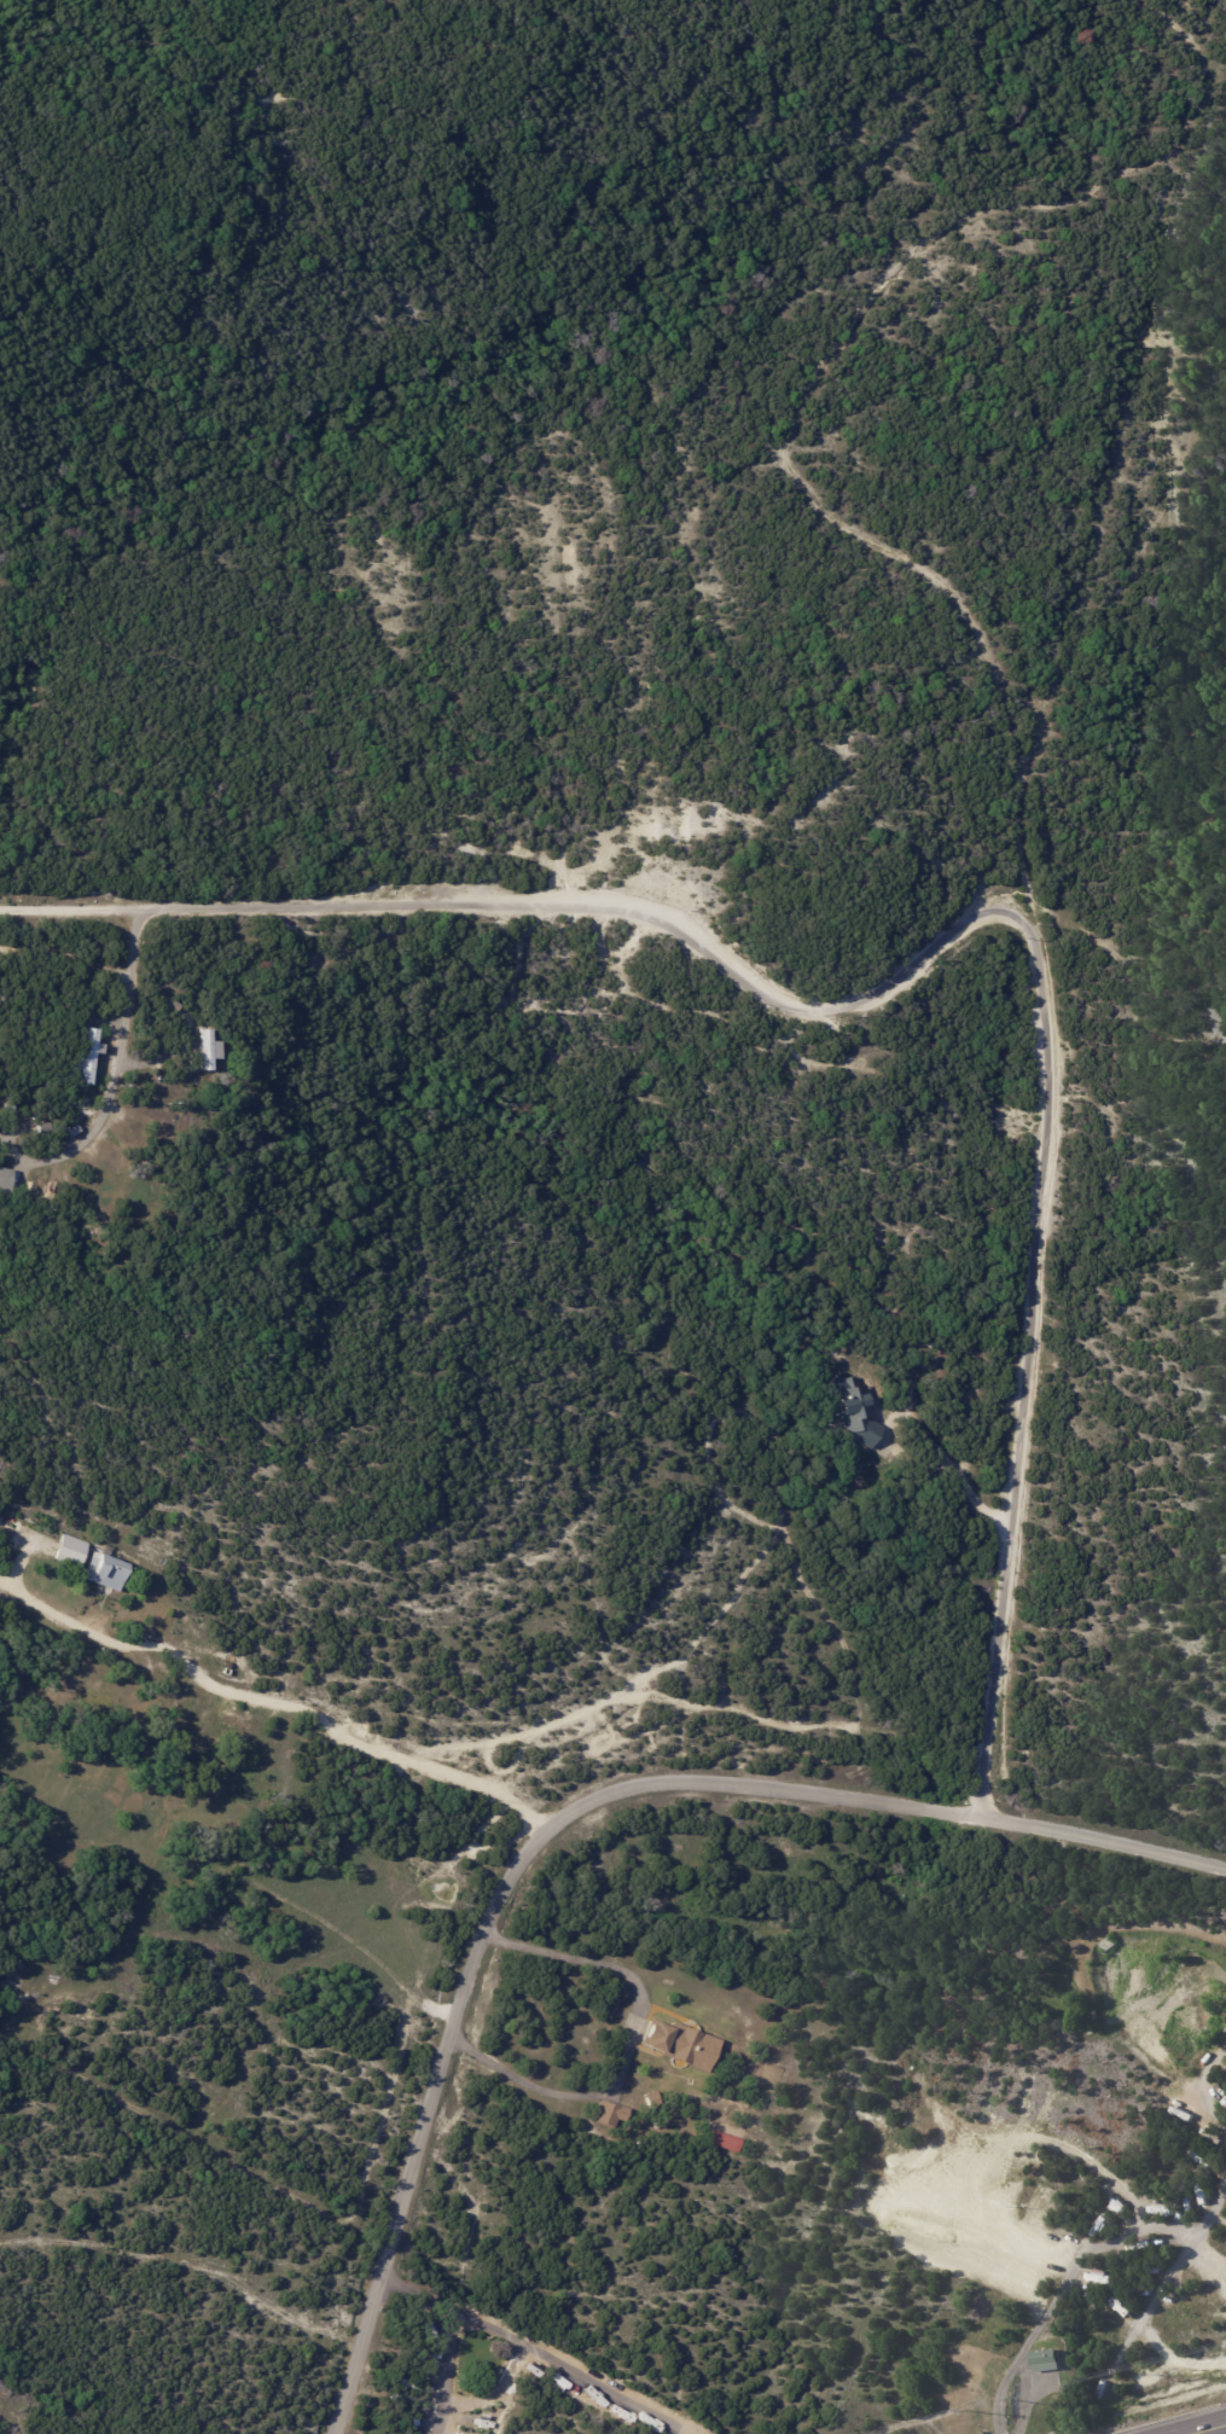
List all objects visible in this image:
road: (74, 908)
building: (121, 930)
road: (902, 968)
building: (176, 1007)
building: (211, 1052)
building: (88, 1058)
building: (75, 1132)
building: (6, 1181)
building: (937, 1372)
building: (861, 1411)
road: (955, 1472)
building: (66, 1538)
building: (108, 1572)
building: (19, 1602)
road: (271, 1703)
road: (568, 1813)
building: (658, 2035)
road: (627, 2041)
road: (1203, 2089)
building: (653, 2098)
building: (612, 2111)
building: (727, 2143)
road: (1076, 2271)
road: (452, 2331)
building: (1050, 2363)
road: (571, 2369)
road: (687, 2427)
road: (1210, 2429)

